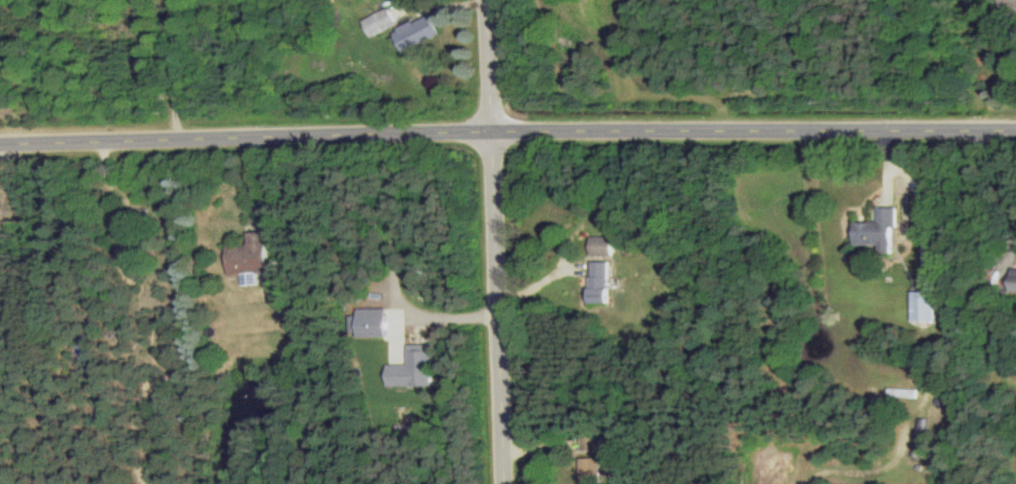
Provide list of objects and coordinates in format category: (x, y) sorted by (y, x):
building: (1006, 4)
building: (377, 23)
building: (414, 33)
road: (171, 66)
road: (507, 129)
road: (1, 160)
building: (875, 231)
road: (493, 241)
building: (598, 246)
building: (248, 256)
road: (395, 266)
building: (1012, 281)
building: (596, 283)
building: (920, 307)
building: (369, 323)
building: (410, 369)
building: (900, 394)
building: (585, 444)
road: (851, 470)
building: (586, 471)

